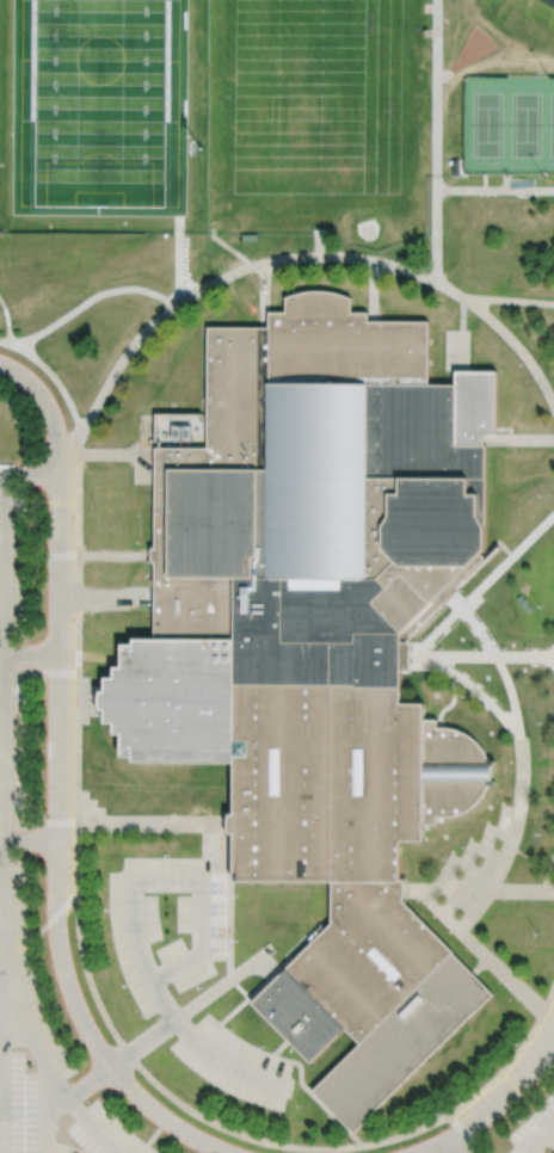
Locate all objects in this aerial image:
park: (351, 19)
park: (473, 45)
road: (438, 53)
road: (486, 63)
park: (98, 105)
park: (336, 124)
park: (509, 127)
road: (438, 141)
road: (495, 190)
road: (437, 228)
road: (320, 239)
road: (228, 247)
road: (320, 257)
road: (260, 264)
street lamp: (319, 264)
road: (406, 270)
street lamp: (396, 272)
street lamp: (235, 280)
road: (214, 282)
road: (265, 284)
road: (451, 289)
road: (375, 290)
road: (92, 296)
road: (510, 301)
road: (7, 317)
road: (466, 334)
road: (4, 341)
road: (13, 344)
road: (517, 345)
street lamp: (137, 347)
road: (121, 362)
street lamp: (522, 362)
street lamp: (55, 370)
road: (59, 382)
road: (49, 407)
street lamp: (87, 436)
road: (517, 438)
road: (105, 456)
road: (32, 474)
road: (79, 494)
street lamp: (543, 494)
street lamp: (84, 529)
road: (60, 536)
road: (115, 555)
road: (53, 556)
road: (481, 561)
road: (79, 576)
road: (482, 590)
road: (444, 592)
road: (104, 598)
road: (59, 625)
street lamp: (82, 631)
road: (79, 636)
building: (318, 643)
road: (32, 654)
road: (482, 655)
street lamp: (82, 661)
road: (549, 665)
road: (42, 676)
road: (79, 688)
road: (85, 699)
street lamp: (30, 701)
street lamp: (81, 725)
road: (57, 746)
street lamp: (81, 747)
parking lot: (13, 751)
road: (79, 760)
road: (523, 771)
street lamp: (82, 787)
road: (5, 793)
road: (42, 821)
road: (150, 821)
street lamp: (82, 832)
street lamp: (111, 832)
street lamp: (144, 832)
street lamp: (177, 832)
road: (31, 839)
street lamp: (167, 853)
road: (78, 857)
street lamp: (82, 862)
road: (548, 877)
road: (448, 890)
road: (523, 890)
street lamp: (236, 894)
street lamp: (106, 908)
road: (431, 911)
road: (54, 919)
building: (287, 937)
street lamp: (235, 939)
street lamp: (87, 954)
road: (61, 957)
road: (480, 967)
road: (501, 972)
street lamp: (124, 986)
street lamp: (199, 987)
road: (287, 1004)
road: (310, 1013)
street lamp: (230, 1029)
street lamp: (124, 1037)
street lamp: (263, 1046)
road: (549, 1050)
road: (136, 1062)
road: (507, 1065)
road: (88, 1081)
road: (296, 1086)
road: (136, 1093)
street lamp: (189, 1102)
road: (495, 1103)
street lamp: (301, 1105)
street lamp: (522, 1118)
parking lot: (535, 1130)
parking lot: (103, 1132)
road: (542, 1135)
road: (104, 1136)
road: (153, 1136)
road: (198, 1137)
road: (358, 1137)
road: (473, 1139)
road: (378, 1142)
road: (456, 1145)
road: (531, 1151)
road: (418, 1152)
road: (419, 1152)

